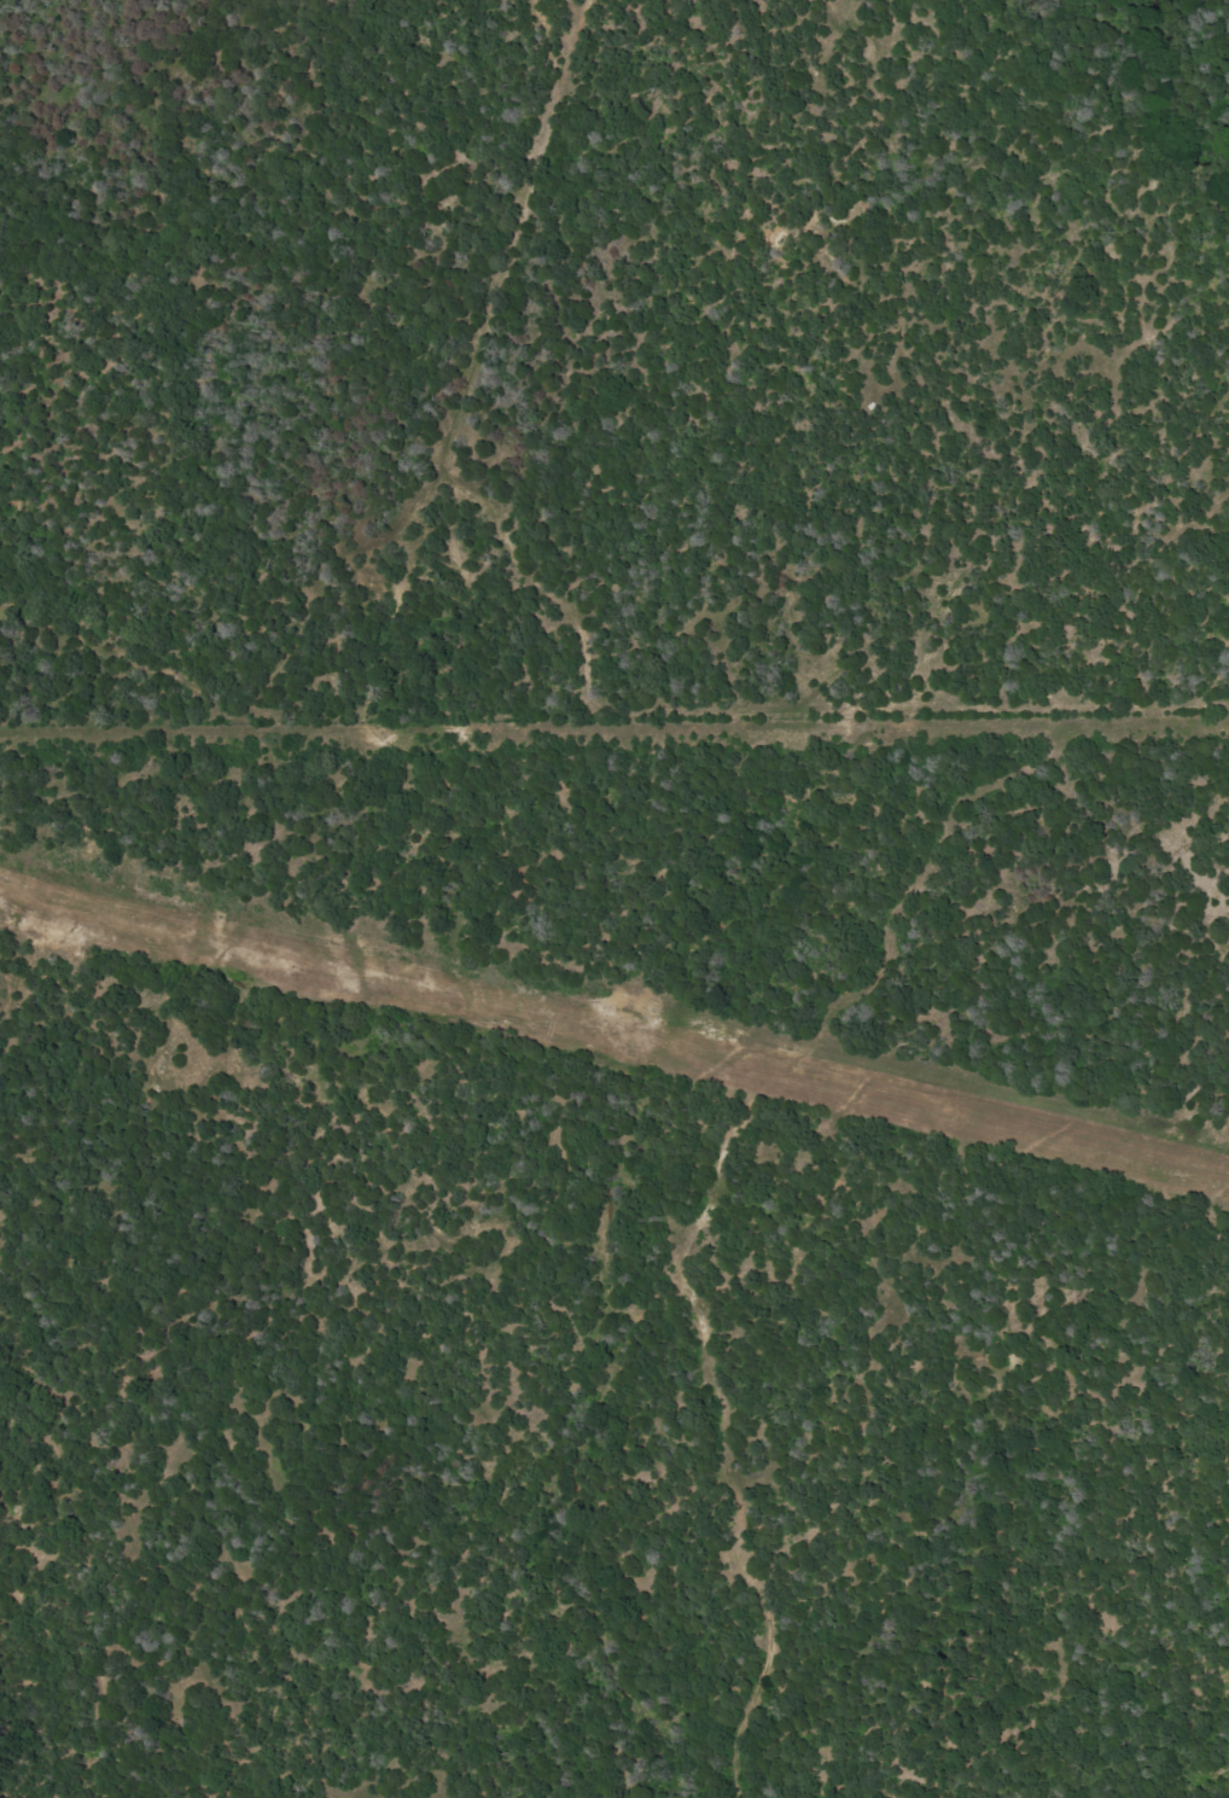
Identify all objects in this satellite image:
road: (1166, 540)

